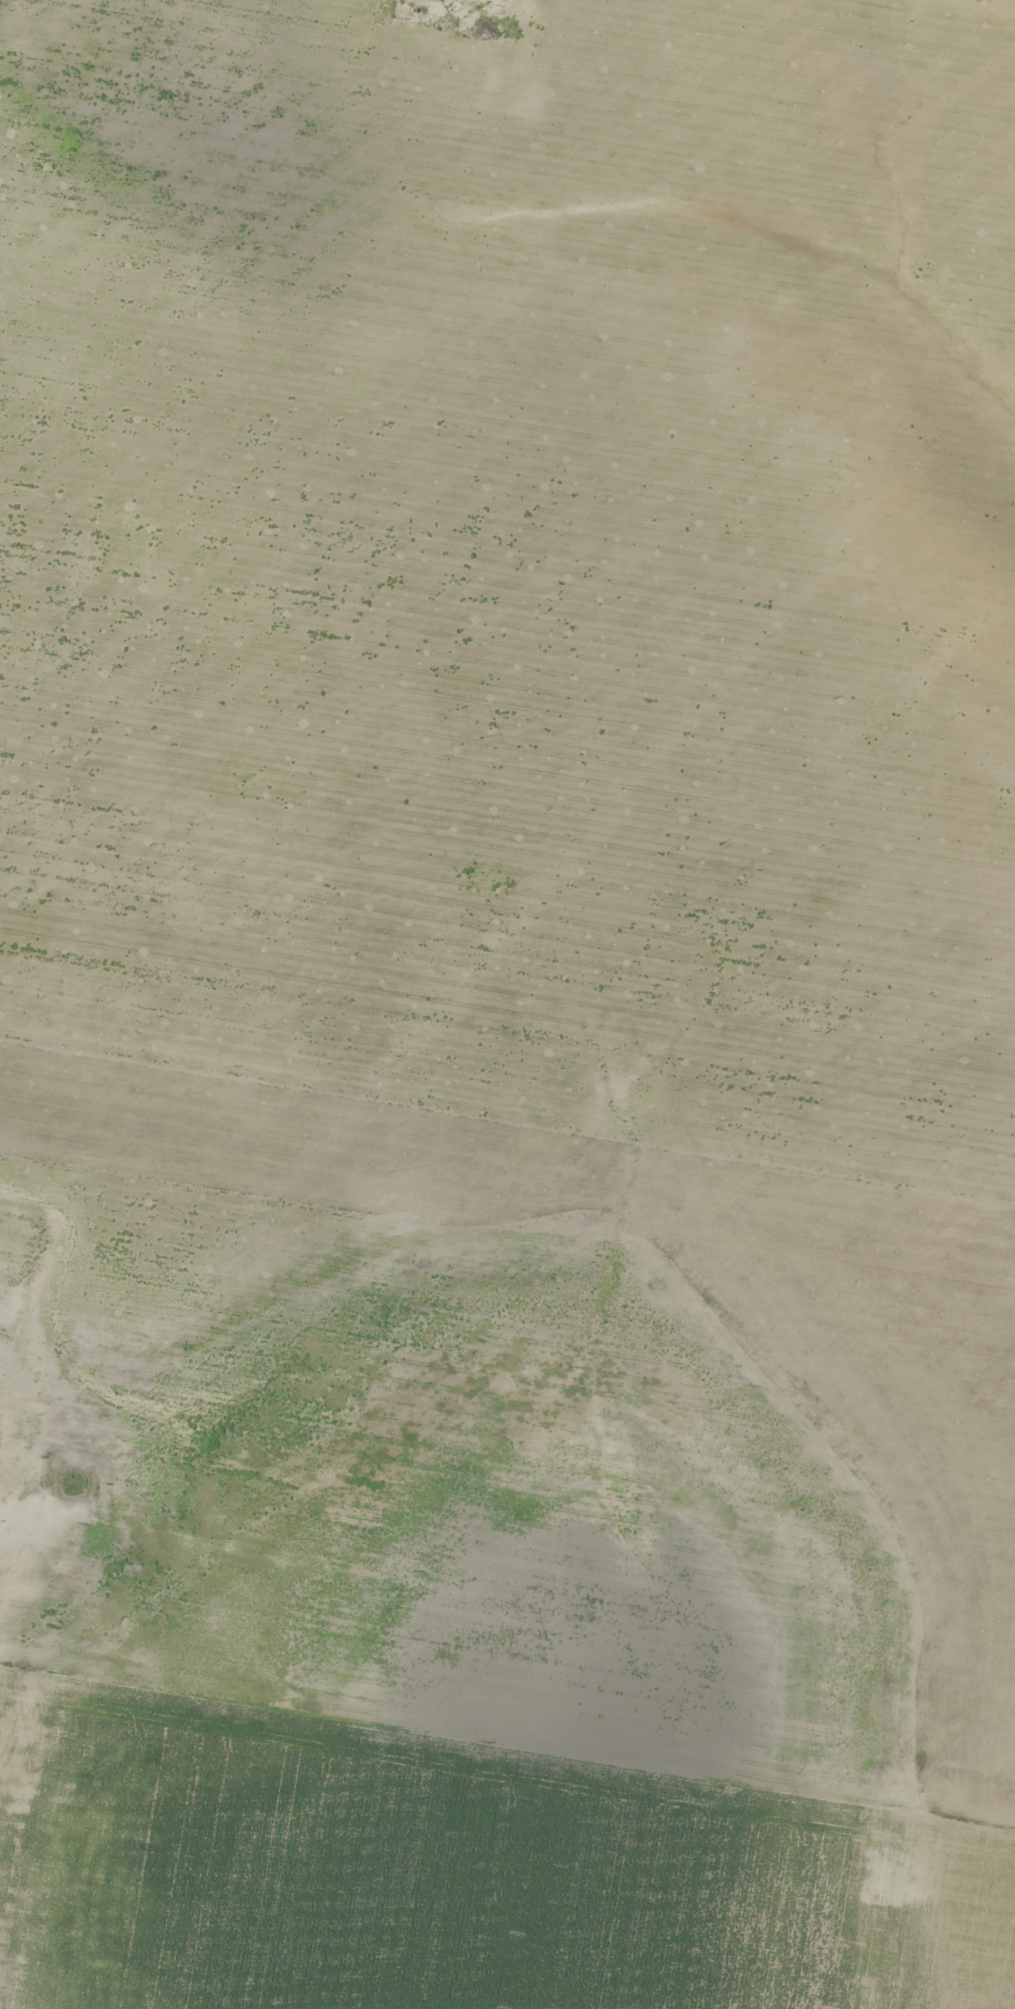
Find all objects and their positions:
road: (507, 1726)

